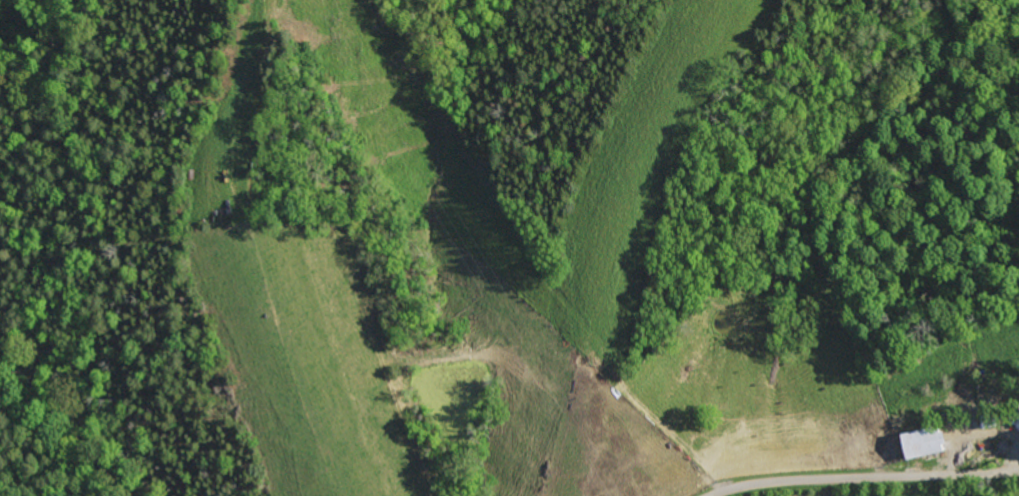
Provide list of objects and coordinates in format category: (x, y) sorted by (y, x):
building: (930, 443)
road: (864, 477)

